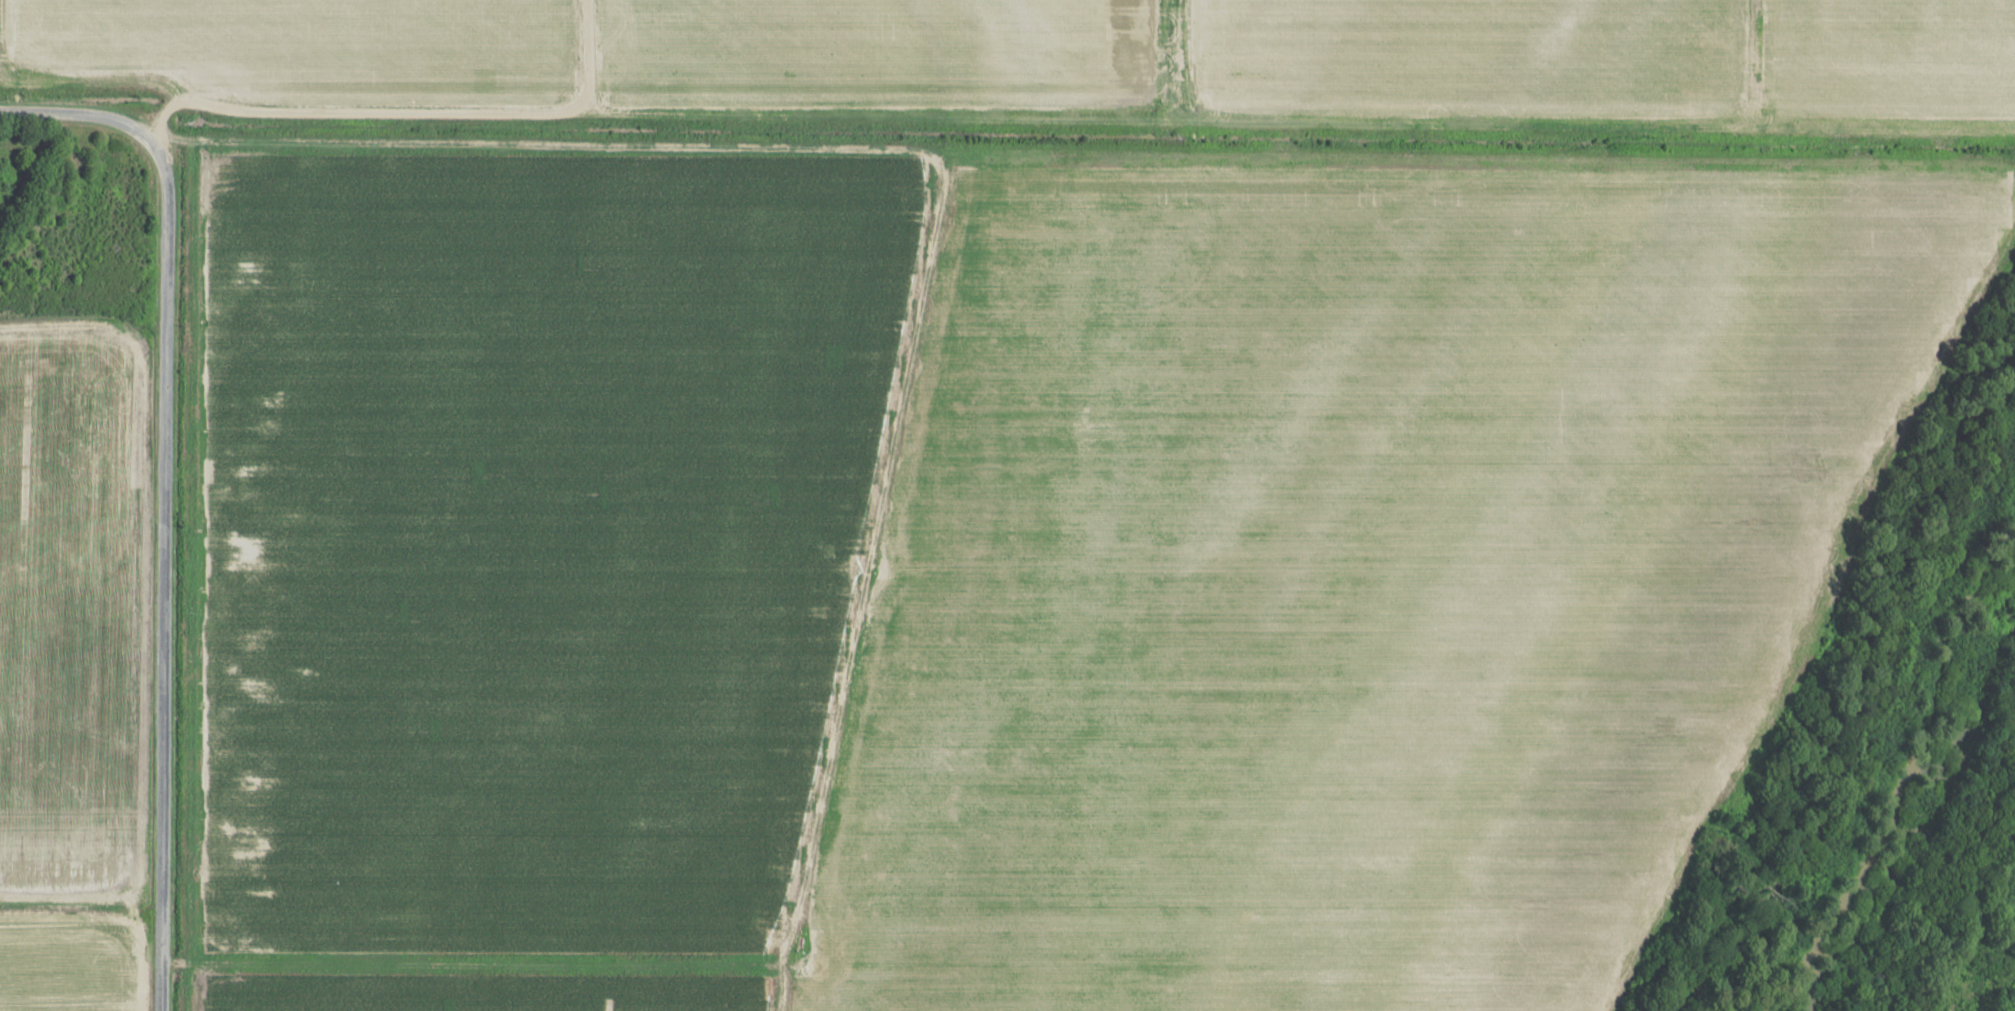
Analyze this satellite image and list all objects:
road: (171, 68)
road: (79, 116)
road: (1082, 164)
road: (163, 573)
road: (874, 589)
road: (482, 966)

